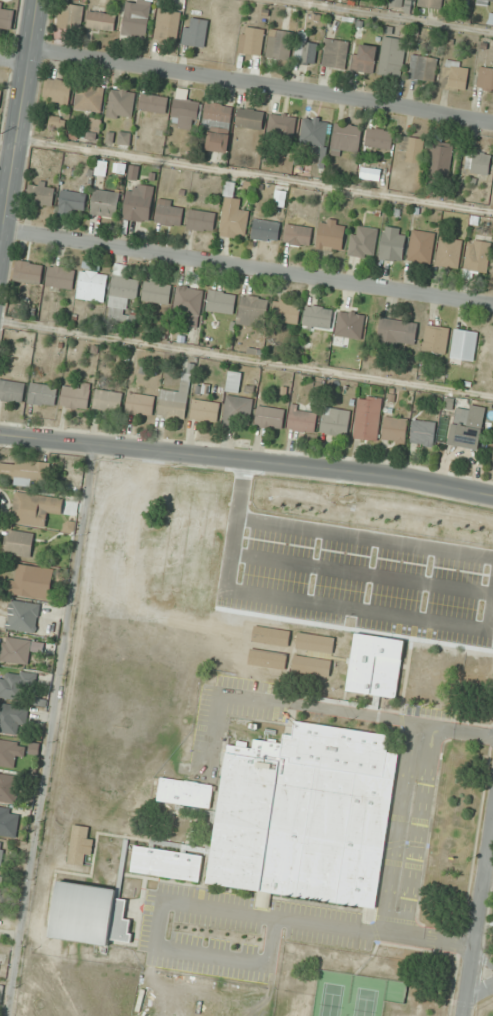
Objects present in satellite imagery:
building: (484, 2)
building: (431, 3)
building: (70, 15)
road: (387, 16)
building: (6, 17)
building: (136, 18)
building: (101, 20)
building: (167, 25)
building: (195, 32)
building: (251, 40)
building: (279, 44)
building: (305, 50)
building: (335, 53)
building: (392, 56)
building: (363, 58)
road: (14, 60)
building: (422, 68)
building: (455, 75)
building: (485, 78)
road: (262, 86)
building: (57, 90)
building: (0, 96)
building: (89, 98)
building: (153, 102)
building: (121, 103)
building: (186, 111)
road: (19, 117)
building: (250, 118)
building: (282, 124)
building: (218, 125)
building: (94, 128)
building: (314, 131)
building: (346, 137)
building: (379, 138)
building: (412, 147)
road: (7, 148)
building: (441, 158)
building: (478, 162)
road: (254, 175)
building: (41, 194)
building: (72, 202)
building: (105, 203)
building: (138, 203)
building: (168, 213)
building: (233, 215)
building: (201, 220)
building: (265, 230)
building: (298, 235)
building: (331, 235)
building: (363, 242)
building: (393, 243)
building: (421, 246)
building: (449, 252)
building: (476, 257)
road: (247, 267)
building: (28, 272)
building: (60, 276)
building: (92, 285)
building: (157, 291)
building: (122, 293)
building: (189, 302)
building: (221, 302)
building: (252, 311)
building: (286, 312)
building: (318, 317)
building: (350, 325)
building: (397, 332)
building: (436, 339)
building: (464, 345)
road: (246, 357)
building: (233, 381)
building: (11, 390)
building: (42, 394)
building: (75, 396)
building: (107, 400)
building: (174, 401)
building: (140, 404)
building: (204, 410)
building: (237, 410)
building: (270, 416)
building: (368, 418)
building: (302, 419)
building: (335, 421)
building: (467, 426)
building: (395, 430)
building: (422, 432)
building: (492, 456)
road: (247, 461)
building: (23, 471)
building: (32, 510)
building: (18, 543)
building: (32, 582)
building: (22, 616)
building: (272, 641)
building: (315, 646)
building: (19, 649)
building: (266, 664)
building: (375, 665)
building: (311, 671)
building: (16, 684)
road: (318, 708)
building: (12, 717)
road: (49, 731)
building: (11, 751)
building: (7, 788)
building: (185, 793)
building: (306, 815)
building: (9, 822)
road: (401, 828)
road: (421, 831)
building: (1, 853)
building: (167, 863)
road: (487, 872)
building: (1, 885)
road: (218, 908)
road: (476, 910)
building: (89, 915)
road: (478, 989)
building: (1, 997)

